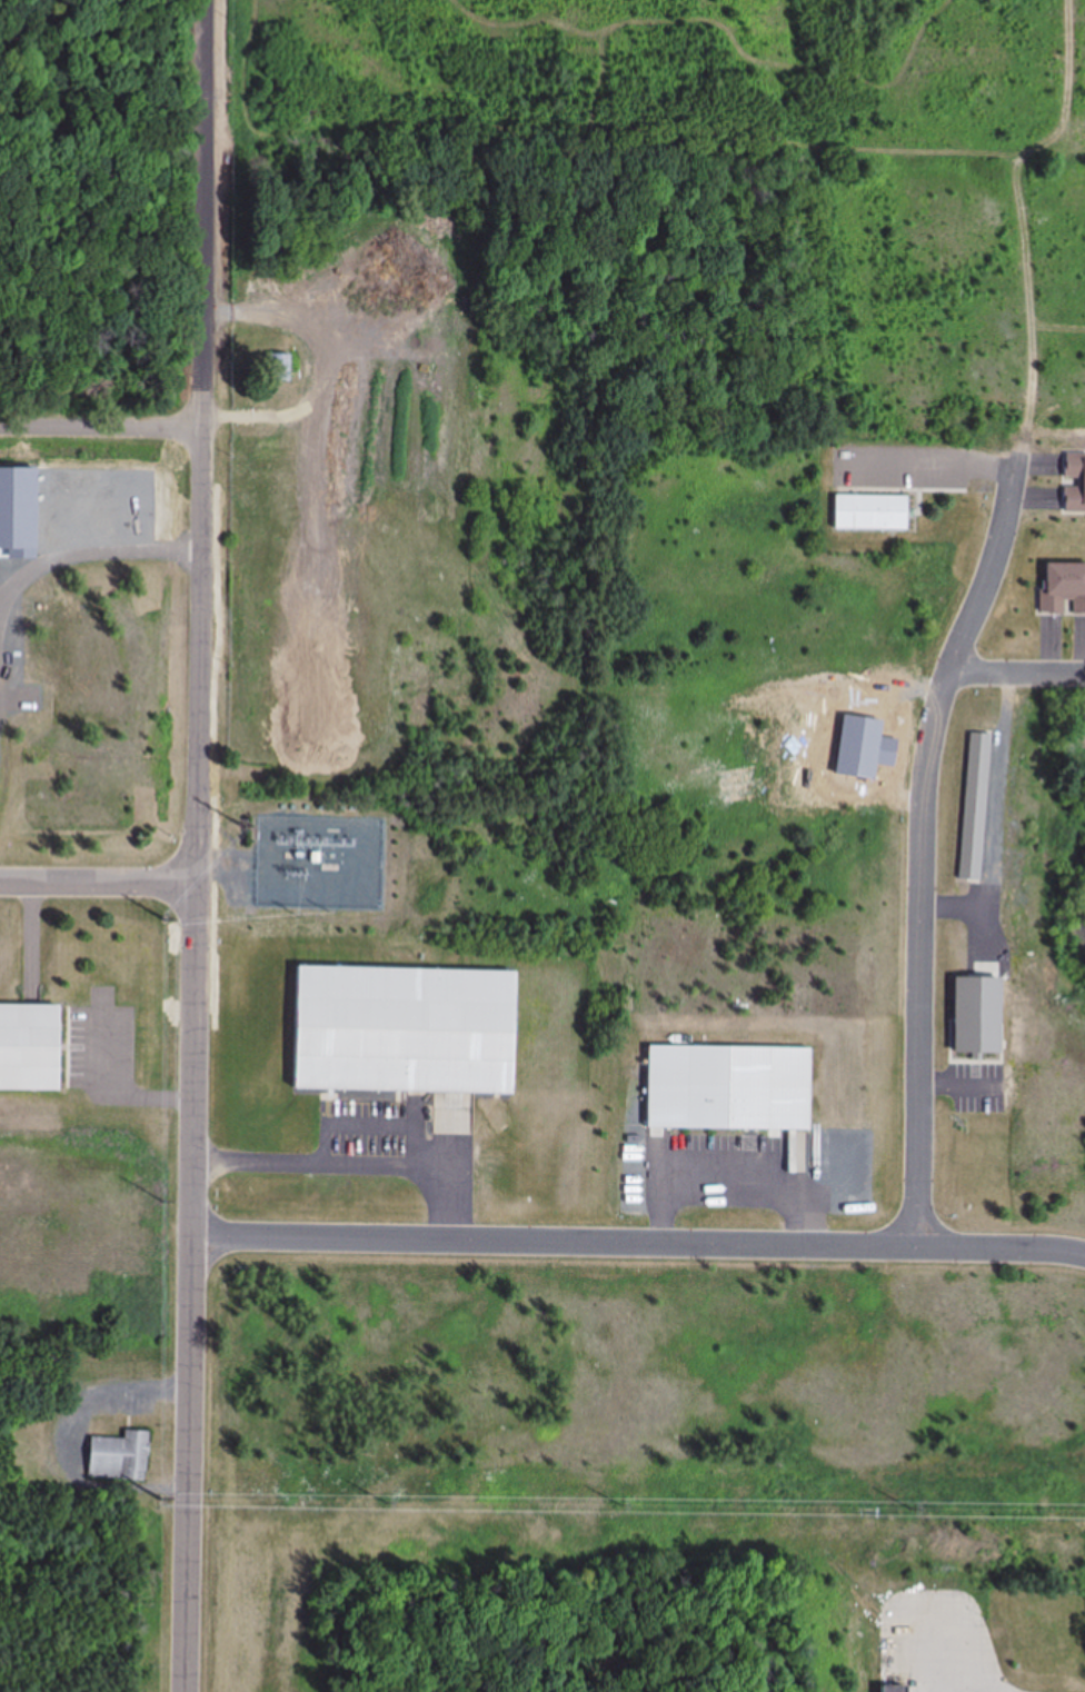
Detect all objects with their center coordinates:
building: (277, 368)
road: (100, 416)
building: (1079, 482)
building: (866, 512)
building: (1062, 588)
road: (1018, 675)
park: (1076, 740)
building: (973, 808)
power tower: (239, 824)
road: (925, 839)
road: (198, 845)
power substation: (318, 859)
power substation: (318, 859)
road: (99, 879)
power tower: (298, 914)
power tower: (166, 919)
park: (1077, 920)
building: (973, 1016)
building: (400, 1031)
building: (30, 1048)
building: (727, 1088)
power tower: (165, 1201)
road: (639, 1235)
building: (117, 1457)
power tower: (162, 1499)
power tower: (385, 1502)
power tower: (616, 1504)
power tower: (910, 1507)
building: (889, 1691)

